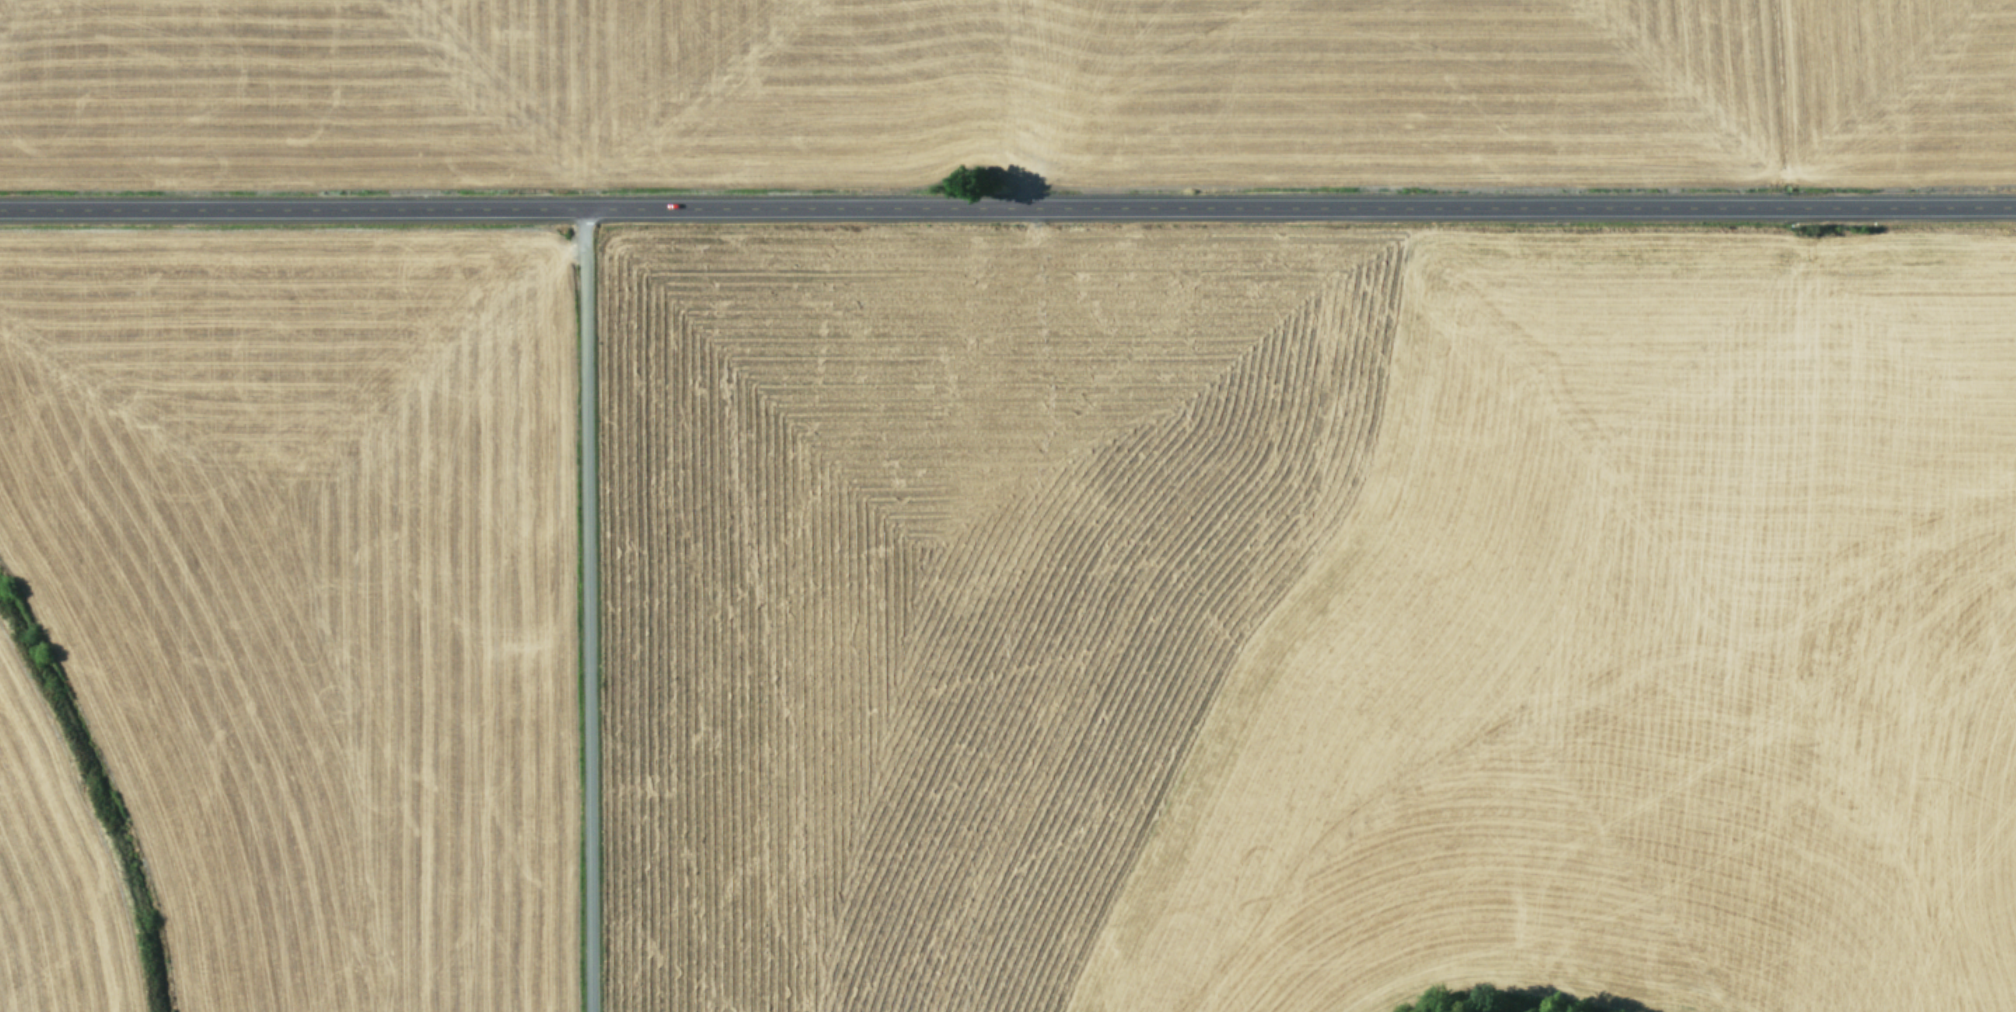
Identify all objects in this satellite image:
road: (1007, 205)
crop: (1008, 506)
road: (579, 609)

